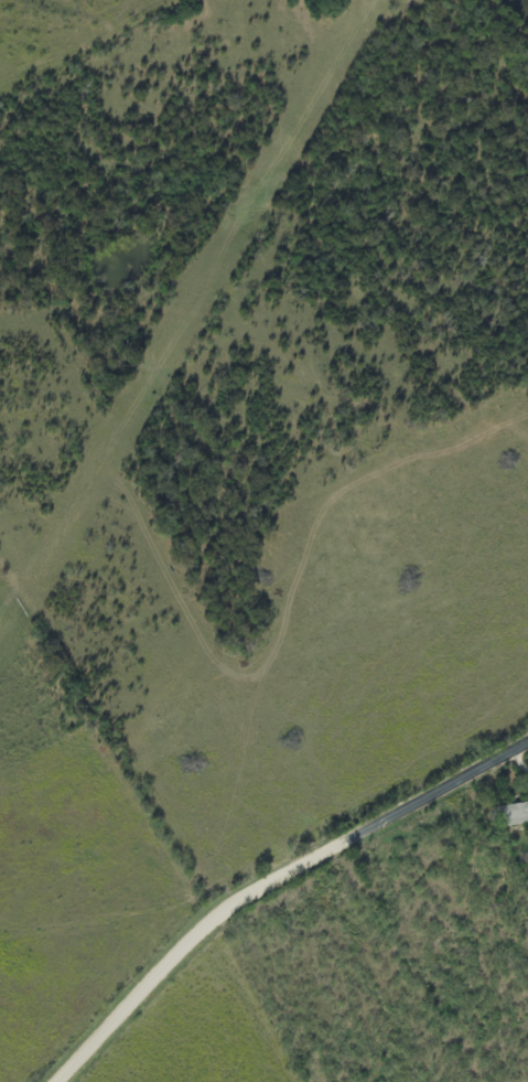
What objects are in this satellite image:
building: (516, 815)
road: (272, 885)

